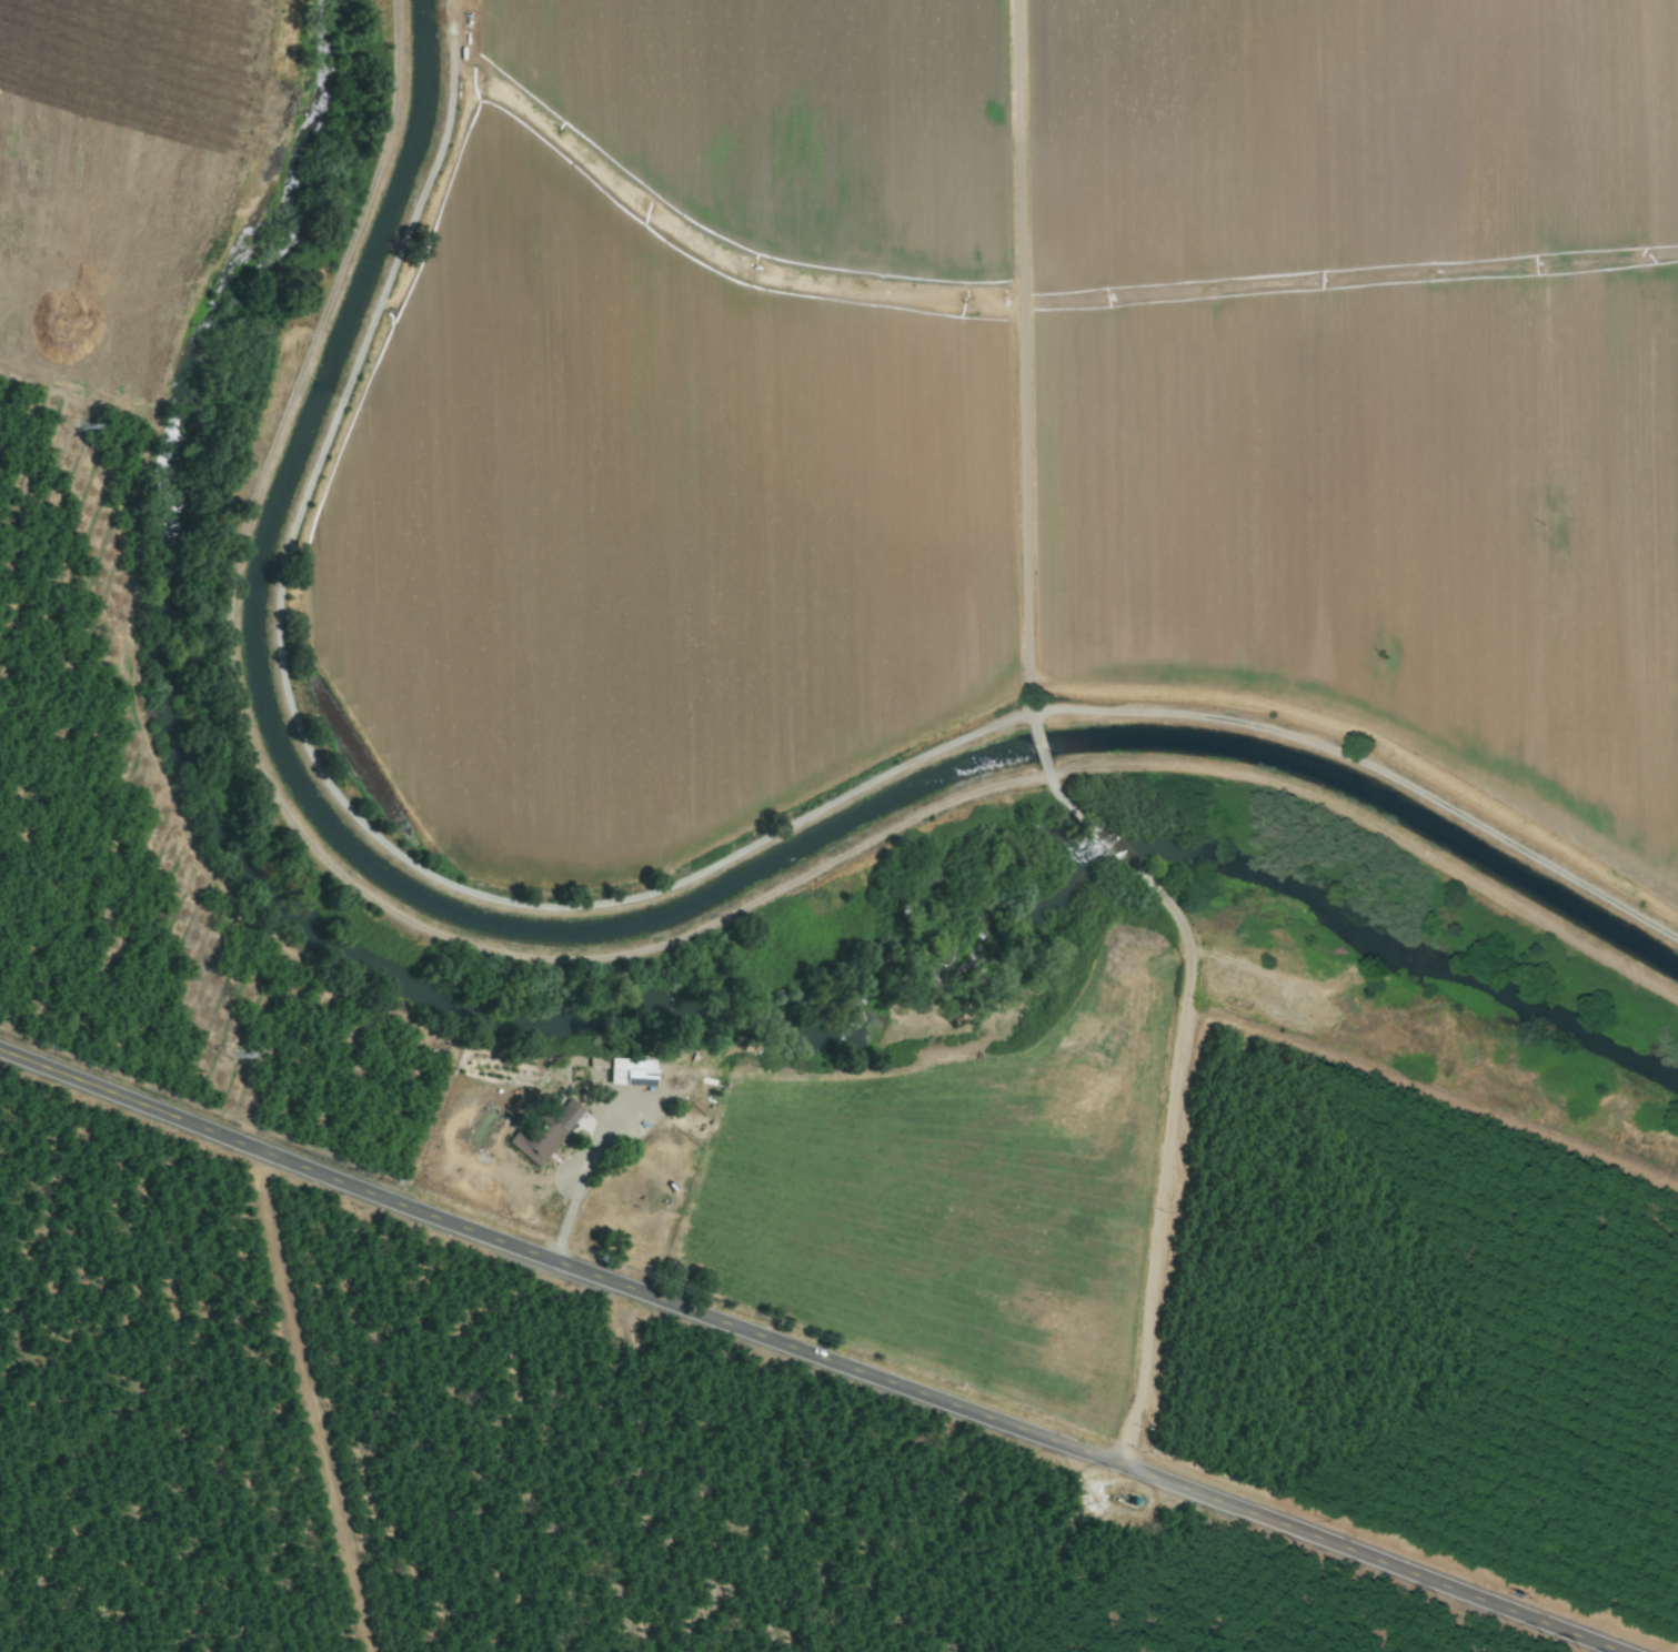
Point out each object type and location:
road: (1023, 362)
power tower: (72, 426)
road: (1042, 749)
power tower: (227, 1057)
building: (630, 1072)
road: (1176, 1096)
building: (547, 1127)
road: (573, 1200)
road: (807, 1352)

